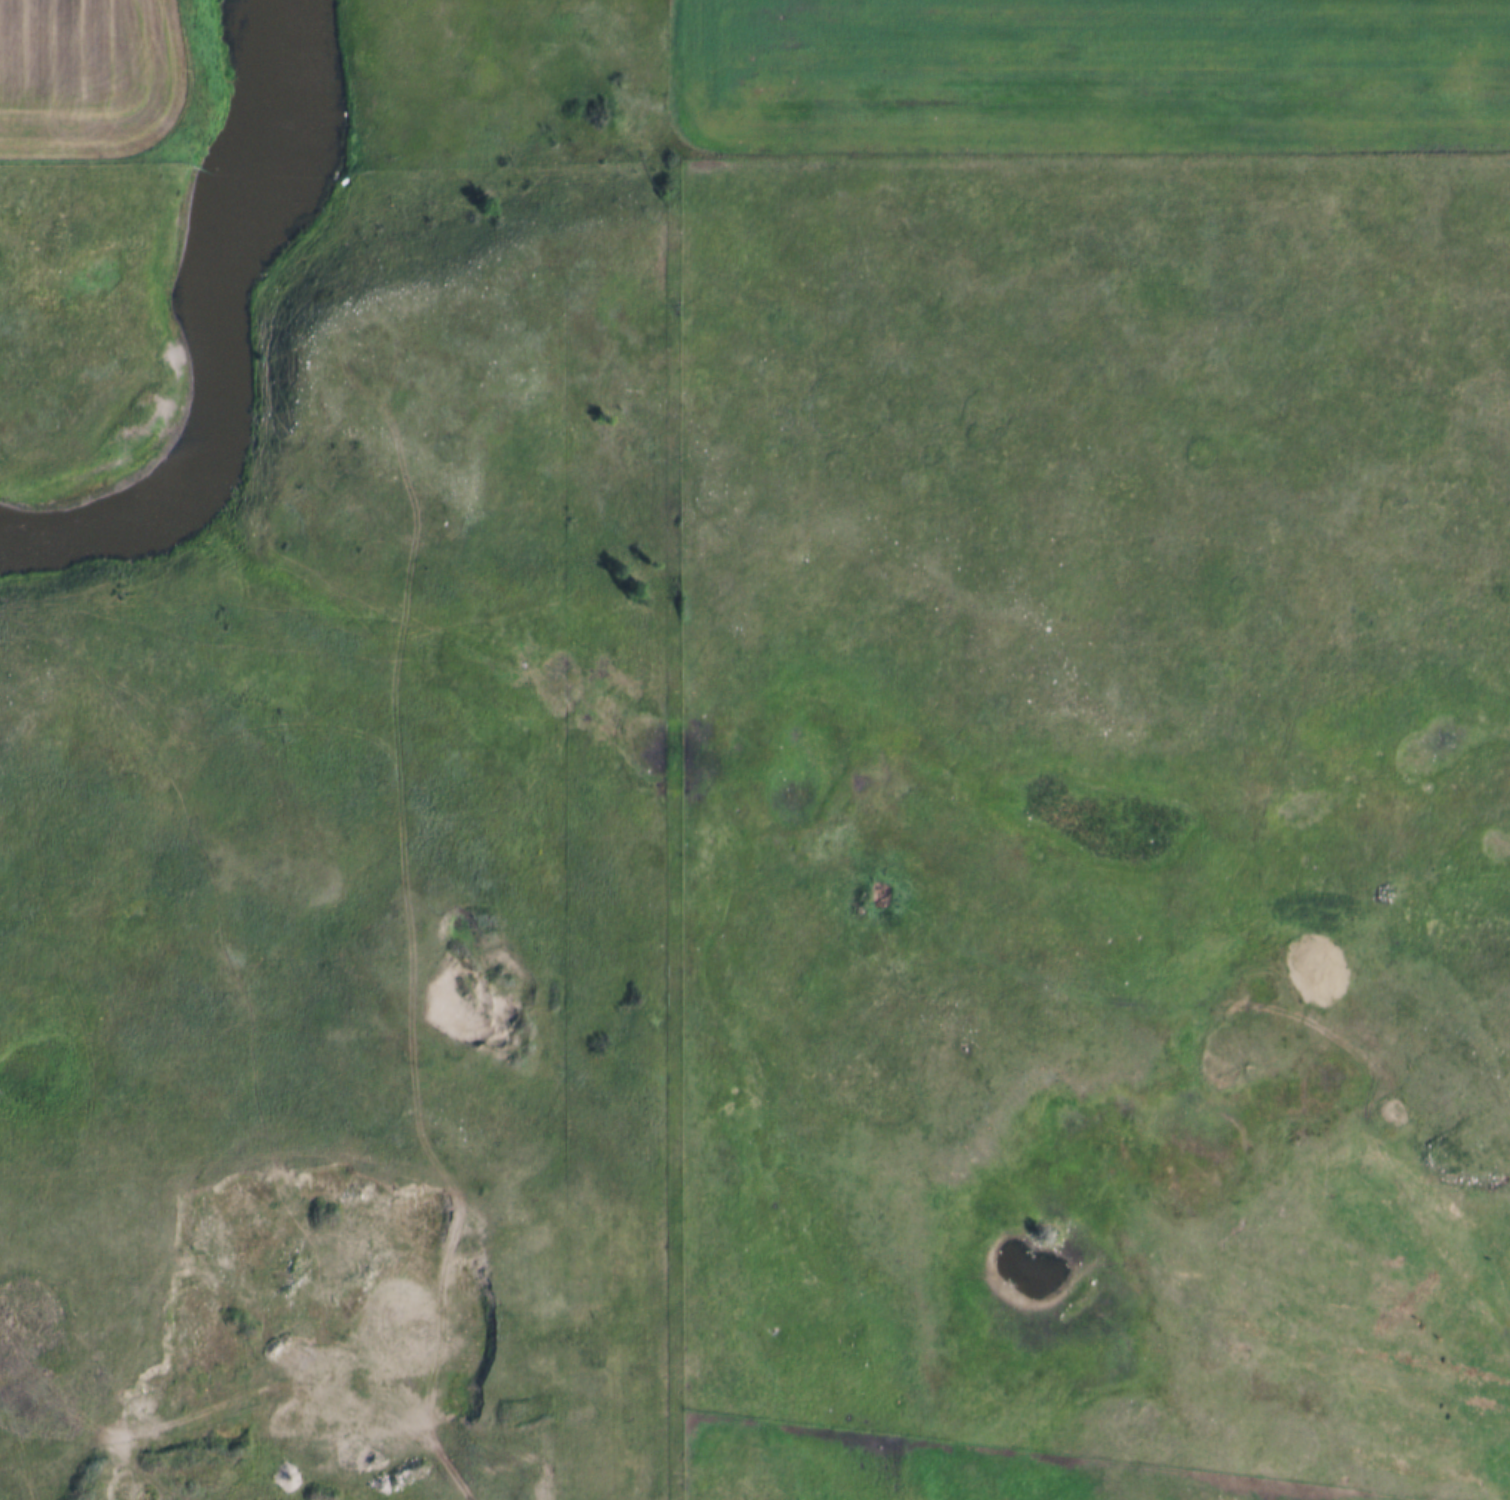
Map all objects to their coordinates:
river: (224, 346)
quarry: (316, 1344)
road: (365, 1483)

